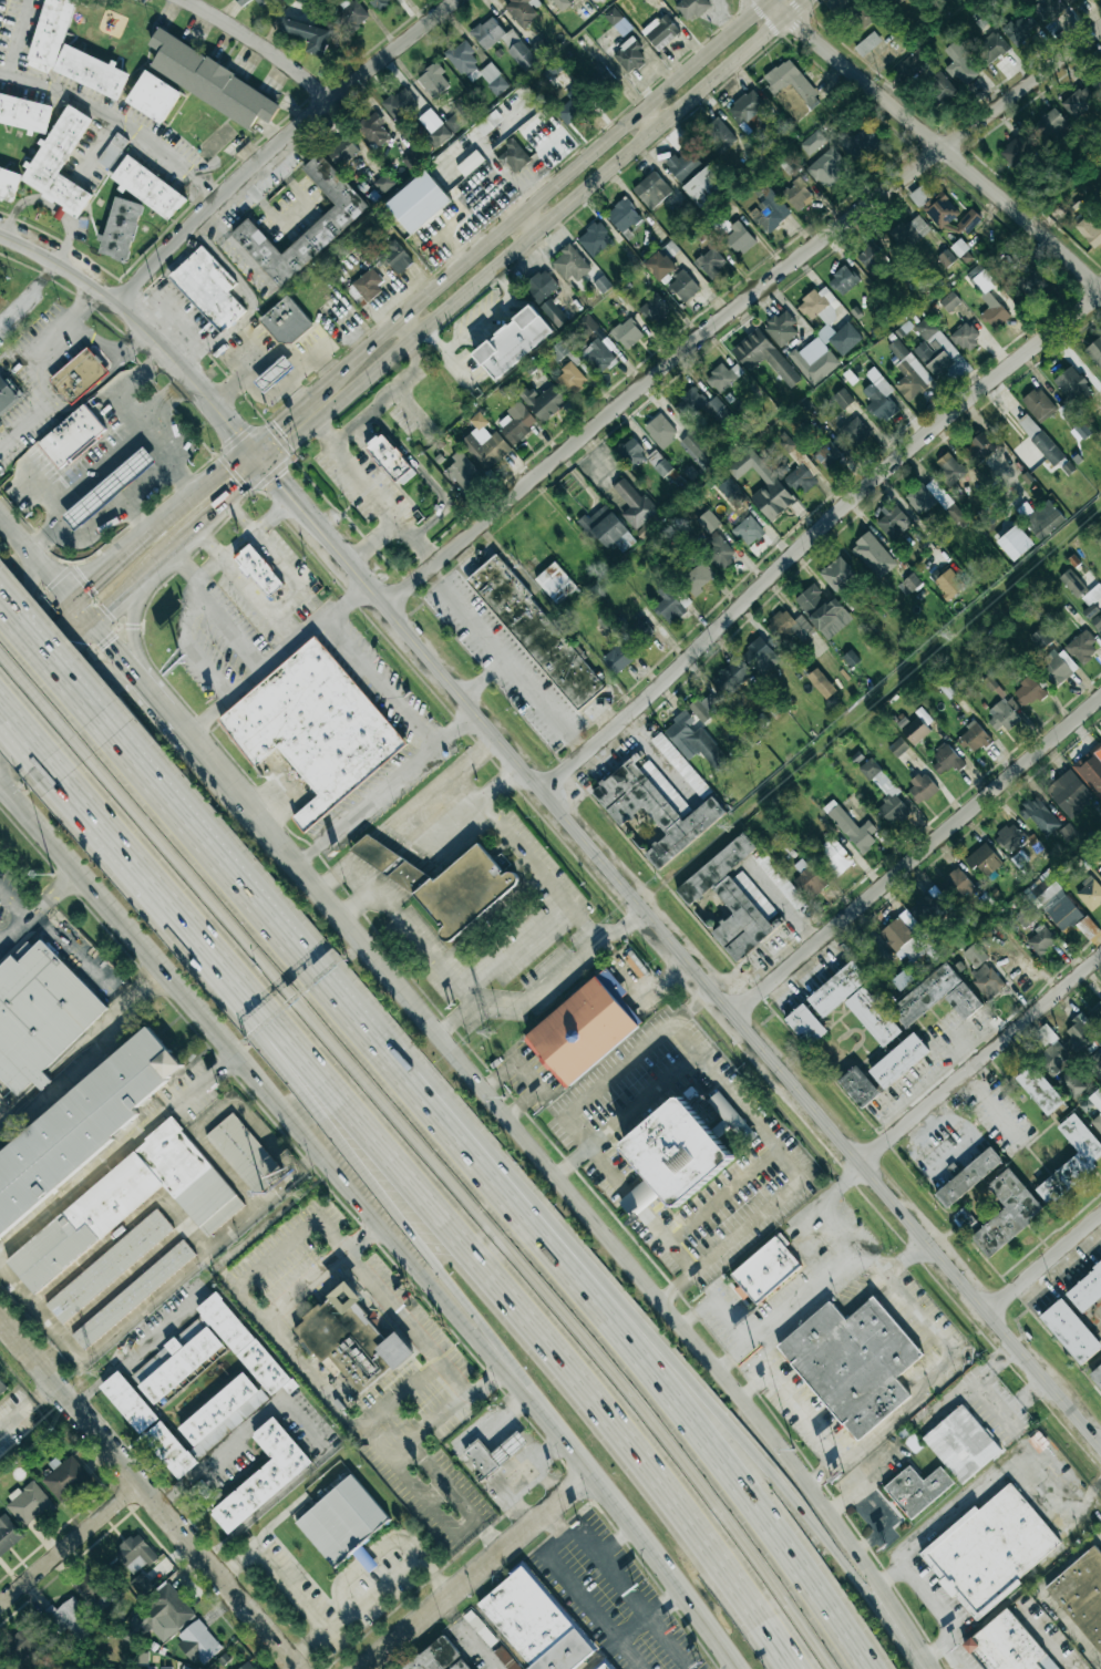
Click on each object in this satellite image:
building: (243, 2)
building: (260, 2)
building: (379, 3)
building: (560, 4)
building: (691, 8)
building: (1046, 9)
building: (521, 11)
building: (863, 14)
building: (350, 18)
building: (618, 21)
building: (1019, 28)
building: (660, 31)
building: (308, 35)
road: (16, 40)
building: (503, 42)
building: (867, 44)
road: (263, 45)
building: (991, 48)
building: (541, 49)
building: (70, 52)
building: (628, 54)
building: (910, 63)
building: (961, 63)
building: (475, 68)
building: (553, 68)
building: (210, 81)
building: (433, 81)
building: (791, 82)
building: (1097, 83)
building: (940, 86)
building: (153, 96)
building: (1078, 102)
building: (400, 104)
building: (570, 107)
building: (745, 107)
building: (24, 113)
road: (650, 119)
road: (119, 122)
building: (456, 122)
building: (488, 123)
building: (1051, 123)
building: (434, 128)
building: (373, 131)
building: (718, 135)
building: (815, 141)
road: (936, 142)
building: (862, 143)
road: (280, 144)
building: (340, 150)
building: (113, 152)
building: (1015, 152)
building: (513, 157)
building: (59, 163)
building: (470, 163)
building: (682, 165)
building: (824, 172)
building: (384, 183)
building: (9, 184)
building: (704, 185)
building: (148, 188)
building: (651, 189)
road: (543, 194)
building: (798, 195)
building: (418, 202)
building: (935, 207)
building: (769, 212)
building: (622, 215)
road: (536, 218)
building: (968, 221)
building: (331, 225)
building: (121, 229)
building: (1091, 230)
building: (909, 233)
road: (537, 234)
building: (738, 238)
building: (595, 239)
building: (959, 248)
building: (397, 258)
building: (872, 259)
building: (710, 261)
building: (570, 264)
building: (659, 265)
building: (980, 279)
building: (843, 280)
building: (368, 284)
building: (601, 284)
building: (1031, 284)
building: (542, 285)
building: (682, 286)
building: (208, 288)
road: (28, 291)
building: (949, 301)
building: (3, 303)
building: (654, 308)
road: (738, 308)
building: (553, 312)
building: (994, 312)
building: (829, 320)
building: (286, 321)
road: (138, 323)
building: (586, 324)
road: (410, 327)
building: (781, 329)
building: (627, 333)
building: (965, 336)
building: (513, 342)
road: (104, 347)
building: (934, 348)
building: (559, 350)
building: (1094, 351)
building: (598, 357)
building: (763, 357)
road: (270, 360)
building: (814, 360)
road: (23, 363)
building: (909, 372)
building: (274, 374)
building: (79, 375)
building: (723, 377)
building: (570, 379)
road: (284, 383)
building: (1072, 387)
road: (395, 388)
road: (279, 389)
building: (7, 394)
building: (879, 395)
road: (165, 398)
building: (842, 399)
building: (544, 401)
building: (1038, 404)
building: (707, 410)
road: (284, 418)
building: (516, 422)
building: (1076, 423)
building: (660, 431)
building: (854, 432)
building: (72, 437)
building: (1040, 440)
building: (785, 443)
building: (484, 446)
traffic signals: (249, 449)
building: (978, 449)
building: (699, 452)
building: (631, 453)
building: (827, 455)
road: (258, 459)
building: (390, 460)
traffic signals: (267, 468)
building: (949, 470)
building: (462, 471)
road: (92, 472)
road: (158, 478)
building: (800, 480)
road: (183, 481)
building: (109, 490)
building: (771, 491)
road: (375, 495)
road: (193, 496)
building: (934, 501)
building: (634, 504)
road: (272, 513)
road: (210, 515)
building: (1040, 518)
road: (137, 519)
building: (707, 523)
building: (893, 523)
building: (606, 528)
building: (748, 530)
road: (251, 532)
road: (816, 536)
road: (372, 539)
building: (1015, 543)
building: (867, 548)
building: (717, 549)
road: (207, 570)
building: (259, 571)
road: (42, 573)
building: (837, 574)
road: (291, 578)
building: (697, 578)
building: (555, 583)
building: (910, 583)
building: (948, 583)
building: (1072, 584)
traffic signals: (88, 585)
road: (244, 585)
road: (120, 593)
road: (29, 597)
road: (68, 600)
building: (671, 602)
building: (1093, 607)
building: (822, 611)
road: (131, 617)
building: (789, 628)
building: (536, 632)
power tower: (947, 636)
traffic signals: (65, 639)
building: (1040, 639)
road: (101, 643)
road: (189, 643)
traffic signals: (104, 647)
building: (1082, 647)
building: (760, 656)
road: (505, 658)
building: (617, 658)
road: (41, 659)
road: (48, 659)
building: (851, 659)
road: (258, 661)
building: (1057, 666)
road: (125, 670)
building: (732, 677)
building: (821, 683)
building: (1027, 692)
road: (34, 696)
road: (146, 696)
road: (223, 701)
road: (397, 701)
building: (704, 708)
building: (1002, 713)
road: (37, 714)
building: (312, 725)
building: (917, 727)
road: (175, 728)
road: (20, 736)
building: (974, 738)
building: (693, 740)
building: (898, 748)
road: (475, 756)
building: (946, 759)
building: (680, 764)
building: (1090, 769)
road: (501, 783)
building: (922, 789)
road: (1, 790)
building: (885, 793)
building: (1069, 793)
road: (364, 805)
building: (656, 807)
building: (1040, 815)
road: (398, 822)
building: (851, 826)
power tower: (724, 827)
road: (269, 836)
building: (1009, 837)
road: (109, 838)
road: (425, 847)
road: (918, 854)
road: (525, 856)
building: (833, 856)
building: (982, 859)
road: (328, 878)
building: (807, 878)
road: (358, 880)
building: (780, 880)
building: (444, 884)
building: (959, 884)
road: (243, 888)
building: (1045, 888)
building: (1090, 895)
parking lot: (11, 897)
building: (732, 899)
road: (782, 905)
building: (928, 906)
road: (13, 908)
road: (39, 911)
building: (1063, 914)
building: (1025, 916)
road: (119, 919)
building: (1087, 927)
building: (902, 935)
building: (1040, 940)
road: (515, 948)
road: (683, 954)
building: (873, 955)
road: (83, 960)
road: (666, 978)
building: (986, 980)
building: (837, 989)
building: (936, 997)
road: (481, 999)
building: (40, 1010)
building: (1095, 1013)
road: (454, 1017)
building: (873, 1017)
building: (805, 1024)
building: (582, 1029)
building: (1079, 1032)
power tower: (488, 1034)
road: (89, 1049)
building: (1051, 1051)
road: (638, 1052)
road: (980, 1054)
building: (898, 1061)
building: (1094, 1064)
road: (527, 1076)
building: (1071, 1084)
building: (858, 1086)
road: (640, 1101)
road: (733, 1102)
building: (1097, 1104)
building: (731, 1116)
road: (7, 1121)
building: (81, 1124)
road: (575, 1132)
road: (967, 1132)
building: (678, 1151)
road: (119, 1152)
building: (247, 1156)
road: (354, 1160)
building: (1072, 1160)
road: (568, 1161)
road: (842, 1177)
building: (968, 1177)
road: (457, 1193)
power tower: (297, 1194)
road: (722, 1197)
building: (638, 1198)
building: (127, 1206)
road: (639, 1208)
building: (1007, 1213)
road: (385, 1228)
road: (726, 1240)
road: (907, 1256)
road: (207, 1258)
road: (1046, 1263)
building: (109, 1266)
building: (764, 1270)
road: (488, 1285)
road: (640, 1285)
building: (133, 1295)
road: (799, 1299)
road: (41, 1318)
building: (1074, 1318)
road: (413, 1328)
road: (721, 1339)
building: (351, 1342)
building: (245, 1345)
road: (136, 1348)
road: (645, 1353)
road: (996, 1357)
building: (176, 1360)
road: (965, 1360)
road: (724, 1362)
road: (295, 1363)
building: (853, 1363)
power tower: (95, 1369)
building: (1097, 1374)
building: (2, 1387)
road: (493, 1391)
road: (809, 1404)
road: (25, 1409)
building: (219, 1415)
parking lot: (421, 1416)
road: (305, 1424)
building: (494, 1453)
building: (943, 1463)
building: (265, 1464)
building: (65, 1477)
road: (775, 1479)
road: (147, 1498)
building: (28, 1504)
road: (950, 1513)
road: (278, 1518)
building: (342, 1524)
road: (639, 1533)
building: (8, 1534)
road: (559, 1534)
road: (617, 1541)
road: (490, 1544)
road: (69, 1545)
road: (384, 1546)
building: (991, 1550)
building: (135, 1554)
road: (275, 1572)
road: (476, 1572)
road: (888, 1575)
building: (88, 1586)
road: (1041, 1594)
building: (1081, 1596)
parking lot: (609, 1597)
road: (635, 1597)
road: (667, 1604)
road: (353, 1608)
road: (591, 1609)
building: (71, 1619)
building: (533, 1624)
road: (470, 1635)
building: (28, 1641)
building: (198, 1642)
building: (1005, 1645)
building: (439, 1657)
road: (953, 1657)
road: (920, 1660)
building: (247, 1666)
building: (604, 1667)
building: (165, 1668)
road: (734, 1668)

